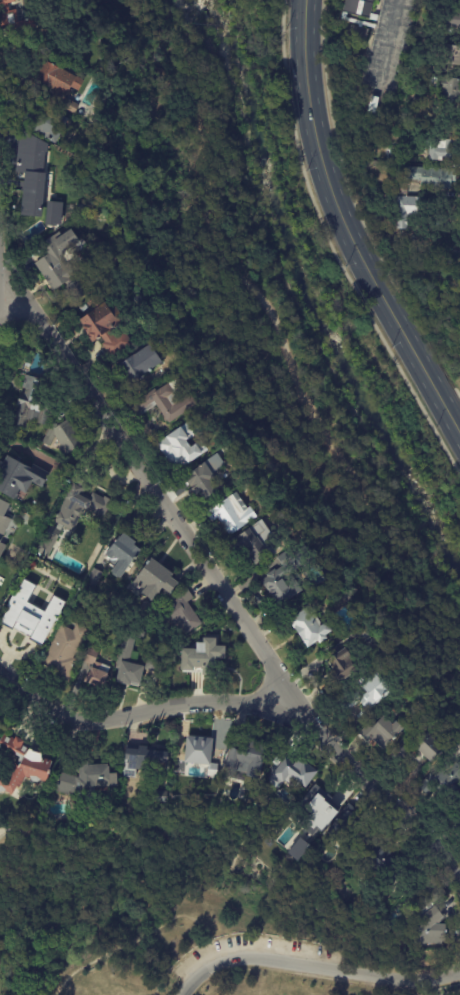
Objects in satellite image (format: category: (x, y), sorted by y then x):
road: (190, 8)
building: (360, 13)
building: (8, 14)
building: (453, 19)
building: (358, 33)
road: (388, 40)
building: (451, 55)
building: (419, 67)
building: (61, 86)
building: (446, 86)
building: (417, 99)
building: (375, 105)
building: (44, 122)
building: (441, 149)
building: (399, 158)
building: (33, 174)
building: (434, 177)
building: (403, 189)
building: (407, 210)
building: (53, 213)
building: (378, 214)
road: (344, 227)
road: (332, 250)
building: (62, 264)
park: (276, 294)
building: (104, 327)
road: (281, 335)
building: (160, 337)
building: (134, 367)
building: (166, 401)
building: (33, 405)
building: (64, 439)
building: (180, 444)
building: (200, 478)
building: (19, 479)
road: (146, 483)
building: (79, 504)
building: (230, 512)
building: (3, 515)
building: (0, 539)
building: (253, 540)
building: (1, 545)
building: (121, 552)
building: (93, 576)
building: (282, 576)
building: (154, 577)
building: (96, 604)
building: (146, 610)
building: (30, 612)
building: (181, 613)
building: (308, 627)
building: (363, 635)
building: (343, 637)
building: (64, 649)
building: (203, 658)
building: (154, 664)
building: (341, 664)
building: (129, 665)
building: (96, 669)
building: (368, 693)
road: (140, 715)
building: (383, 732)
building: (432, 748)
building: (401, 753)
building: (199, 755)
building: (146, 759)
building: (248, 760)
building: (23, 763)
building: (302, 773)
building: (88, 780)
building: (443, 783)
road: (377, 789)
building: (318, 813)
building: (352, 830)
building: (383, 865)
building: (432, 890)
building: (429, 920)
park: (212, 943)
road: (313, 966)
road: (458, 994)

